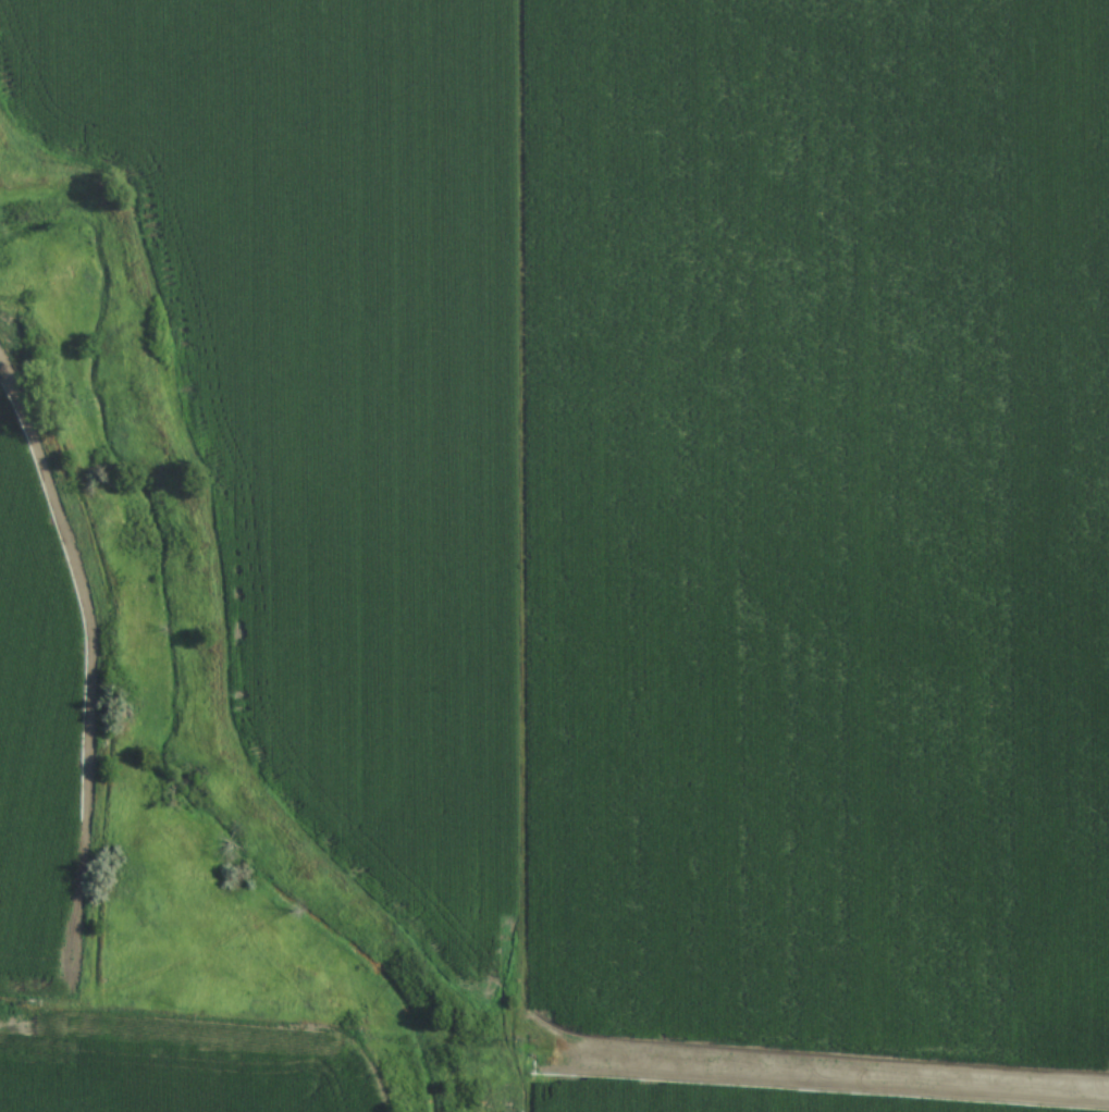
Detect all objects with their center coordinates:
crop: (660, 507)
crop: (35, 706)
crop: (168, 1074)

